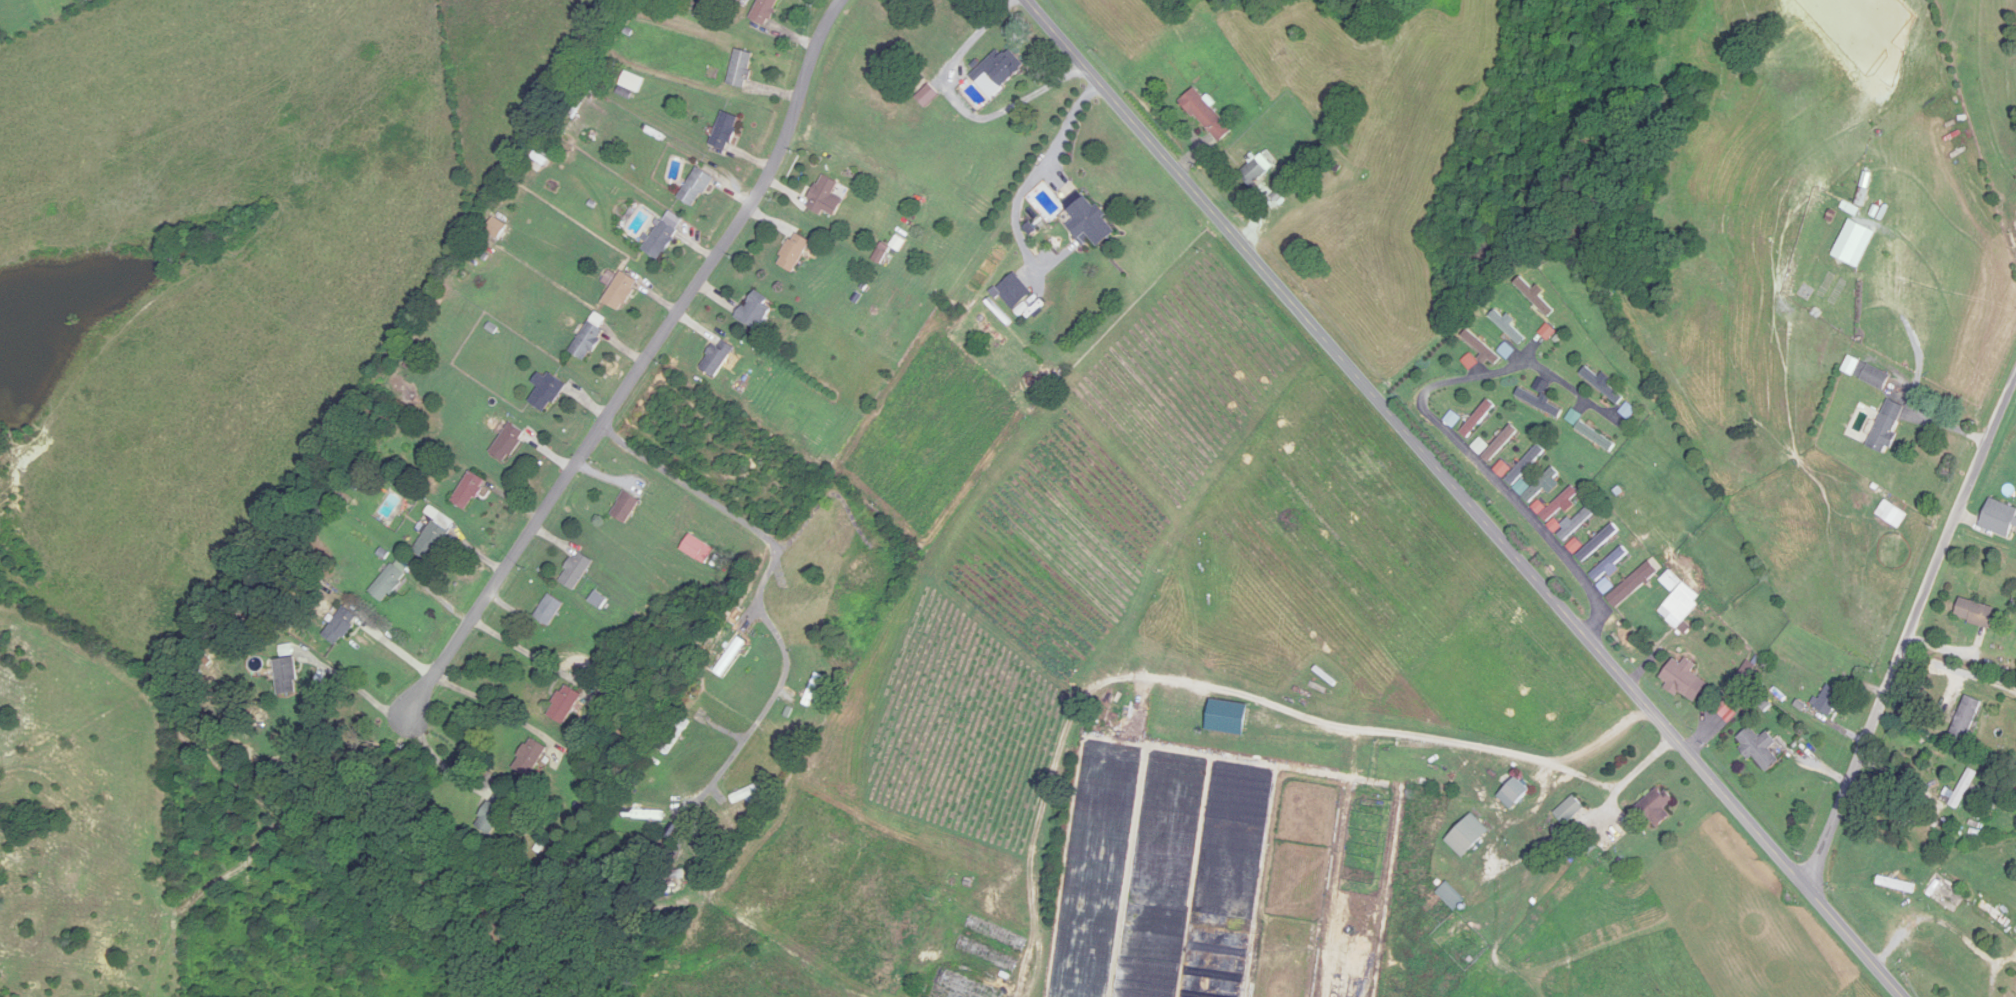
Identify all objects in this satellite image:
building: (764, 11)
building: (1000, 67)
building: (741, 69)
building: (632, 83)
building: (569, 106)
building: (1207, 116)
building: (725, 131)
building: (539, 160)
building: (1257, 170)
building: (696, 188)
building: (827, 197)
building: (1090, 223)
building: (496, 228)
building: (661, 240)
building: (794, 252)
building: (621, 291)
building: (1014, 291)
building: (1539, 301)
building: (757, 311)
building: (1508, 327)
building: (589, 338)
building: (1482, 347)
building: (719, 357)
road: (643, 365)
building: (1873, 375)
building: (1602, 386)
building: (547, 391)
building: (1540, 403)
building: (1478, 418)
building: (390, 419)
building: (1887, 426)
building: (1596, 436)
building: (508, 443)
building: (1501, 444)
building: (1526, 465)
road: (1488, 470)
building: (1542, 484)
building: (469, 491)
road: (1464, 498)
building: (1560, 504)
building: (625, 508)
building: (2000, 519)
building: (1577, 524)
building: (434, 537)
building: (1598, 543)
building: (698, 549)
building: (1610, 564)
building: (577, 571)
building: (864, 573)
building: (390, 581)
building: (1634, 584)
road: (763, 585)
building: (800, 599)
building: (1680, 599)
building: (598, 600)
building: (550, 610)
building: (1975, 613)
building: (342, 626)
road: (1909, 632)
road: (397, 648)
road: (531, 654)
building: (731, 657)
building: (287, 677)
building: (1685, 680)
building: (1828, 699)
building: (565, 705)
road: (498, 708)
building: (1966, 719)
building: (676, 736)
building: (1760, 749)
building: (530, 757)
road: (441, 764)
building: (1963, 789)
building: (746, 794)
building: (1516, 794)
building: (1658, 808)
building: (1570, 810)
road: (1592, 814)
building: (493, 815)
building: (643, 815)
building: (1470, 836)
building: (1948, 892)
building: (1451, 897)
building: (1995, 915)
road: (1948, 925)

